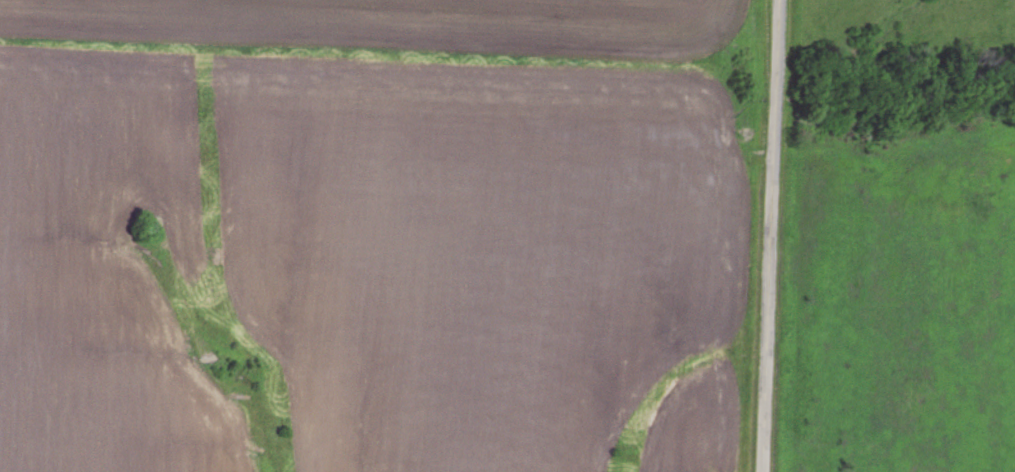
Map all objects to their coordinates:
road: (769, 236)

